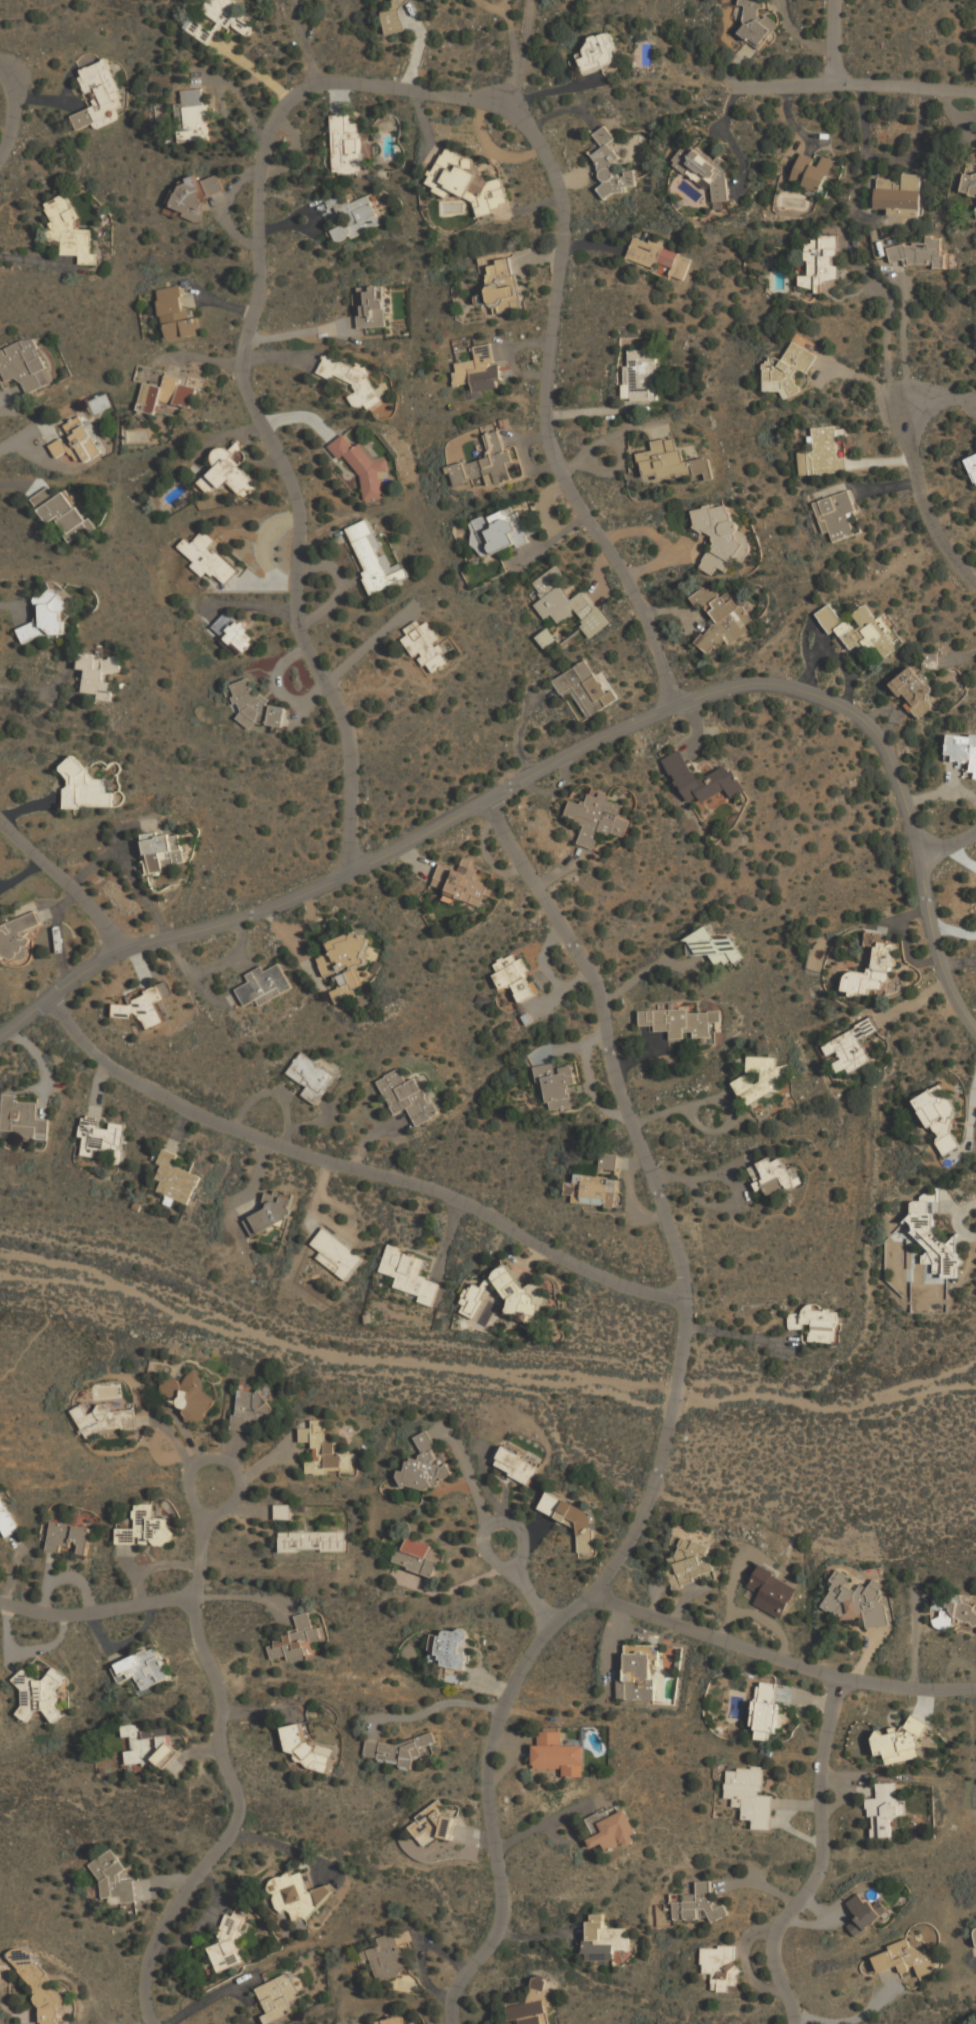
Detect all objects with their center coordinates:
building: (228, 15)
building: (393, 16)
building: (756, 22)
building: (200, 30)
road: (834, 42)
building: (597, 51)
road: (521, 55)
road: (318, 85)
road: (858, 85)
building: (99, 95)
road: (15, 111)
building: (192, 116)
building: (346, 144)
building: (610, 165)
building: (705, 171)
building: (812, 171)
building: (467, 181)
building: (969, 183)
building: (194, 195)
building: (899, 195)
building: (975, 208)
building: (903, 212)
building: (355, 216)
building: (69, 230)
building: (917, 252)
building: (653, 256)
building: (820, 262)
building: (501, 285)
building: (369, 307)
building: (175, 315)
road: (905, 334)
road: (887, 347)
building: (24, 364)
building: (479, 368)
building: (786, 369)
building: (640, 374)
building: (351, 381)
building: (166, 394)
building: (77, 443)
building: (825, 451)
building: (669, 461)
building: (485, 463)
building: (363, 465)
building: (972, 467)
building: (227, 471)
road: (915, 472)
building: (62, 512)
building: (836, 514)
building: (499, 530)
building: (721, 538)
building: (374, 557)
building: (208, 558)
building: (567, 603)
building: (722, 617)
building: (44, 618)
building: (860, 629)
building: (234, 631)
building: (546, 637)
building: (425, 646)
building: (98, 673)
building: (584, 687)
building: (912, 691)
road: (39, 692)
building: (256, 707)
building: (962, 749)
road: (569, 753)
building: (703, 782)
building: (84, 787)
building: (596, 817)
road: (947, 846)
building: (162, 851)
road: (128, 869)
building: (461, 882)
road: (63, 883)
building: (16, 936)
building: (712, 945)
building: (345, 963)
building: (872, 965)
road: (646, 971)
building: (515, 976)
building: (264, 984)
building: (144, 1005)
building: (676, 1021)
building: (855, 1046)
building: (311, 1076)
building: (761, 1079)
building: (558, 1084)
building: (407, 1096)
building: (939, 1116)
building: (21, 1117)
building: (101, 1135)
road: (306, 1153)
building: (607, 1161)
building: (771, 1176)
building: (173, 1178)
building: (593, 1189)
building: (270, 1212)
building: (934, 1242)
building: (336, 1252)
building: (409, 1272)
road: (633, 1285)
building: (516, 1292)
building: (473, 1299)
building: (815, 1323)
road: (732, 1333)
building: (187, 1396)
building: (249, 1409)
building: (102, 1419)
road: (664, 1428)
building: (324, 1451)
building: (515, 1466)
building: (422, 1467)
building: (570, 1520)
building: (6, 1521)
building: (144, 1529)
building: (67, 1537)
road: (201, 1541)
building: (311, 1541)
building: (415, 1557)
building: (691, 1562)
road: (530, 1580)
building: (772, 1590)
building: (857, 1601)
building: (953, 1613)
road: (94, 1614)
building: (297, 1641)
building: (447, 1649)
building: (643, 1651)
road: (790, 1652)
building: (141, 1669)
building: (638, 1676)
building: (50, 1695)
building: (767, 1709)
building: (900, 1743)
building: (148, 1744)
building: (306, 1749)
building: (398, 1751)
building: (557, 1753)
building: (750, 1796)
building: (884, 1808)
road: (238, 1819)
building: (432, 1825)
building: (610, 1831)
road: (283, 1848)
road: (823, 1853)
building: (113, 1878)
building: (295, 1896)
building: (699, 1904)
building: (862, 1914)
building: (975, 1931)
building: (603, 1939)
building: (227, 1944)
building: (621, 1956)
building: (386, 1958)
building: (904, 1958)
building: (720, 1966)
building: (538, 1983)
road: (212, 1998)
building: (276, 1998)
building: (530, 2012)
building: (391, 2021)

